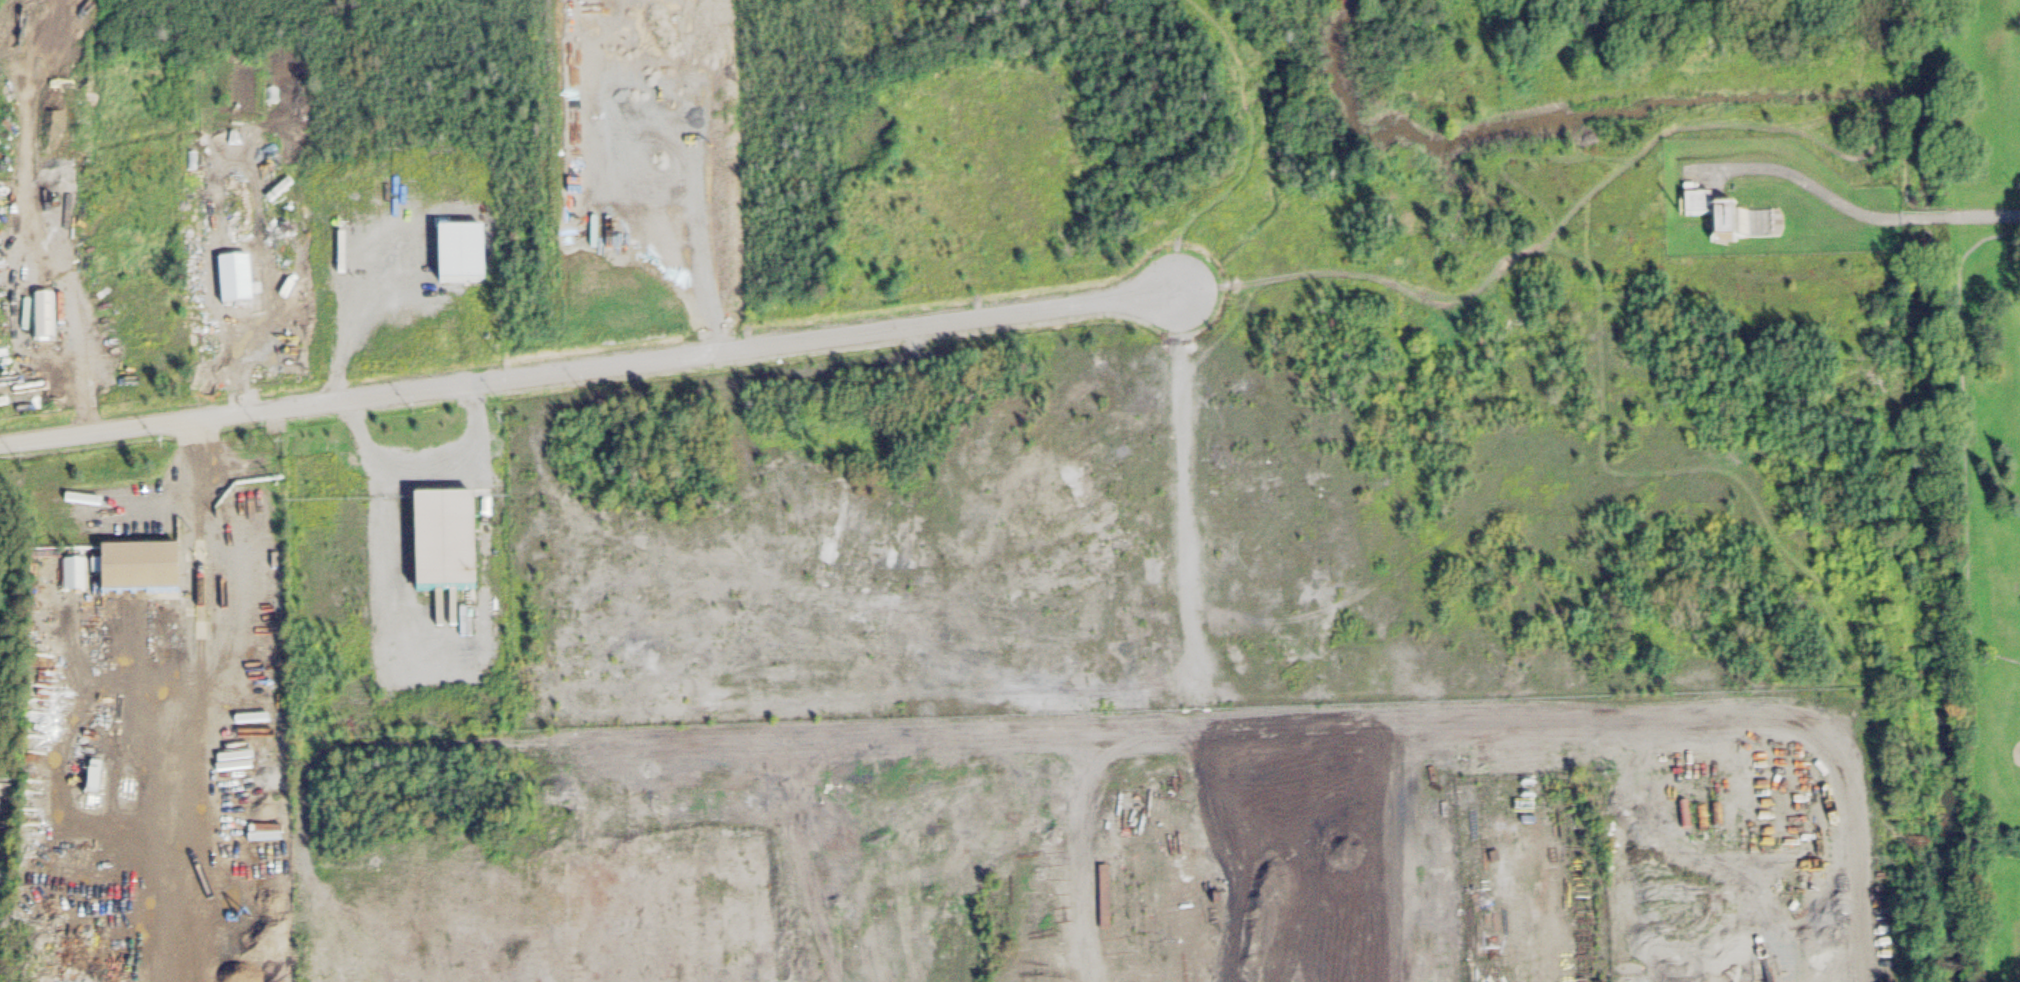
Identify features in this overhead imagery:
park: (1996, 774)

